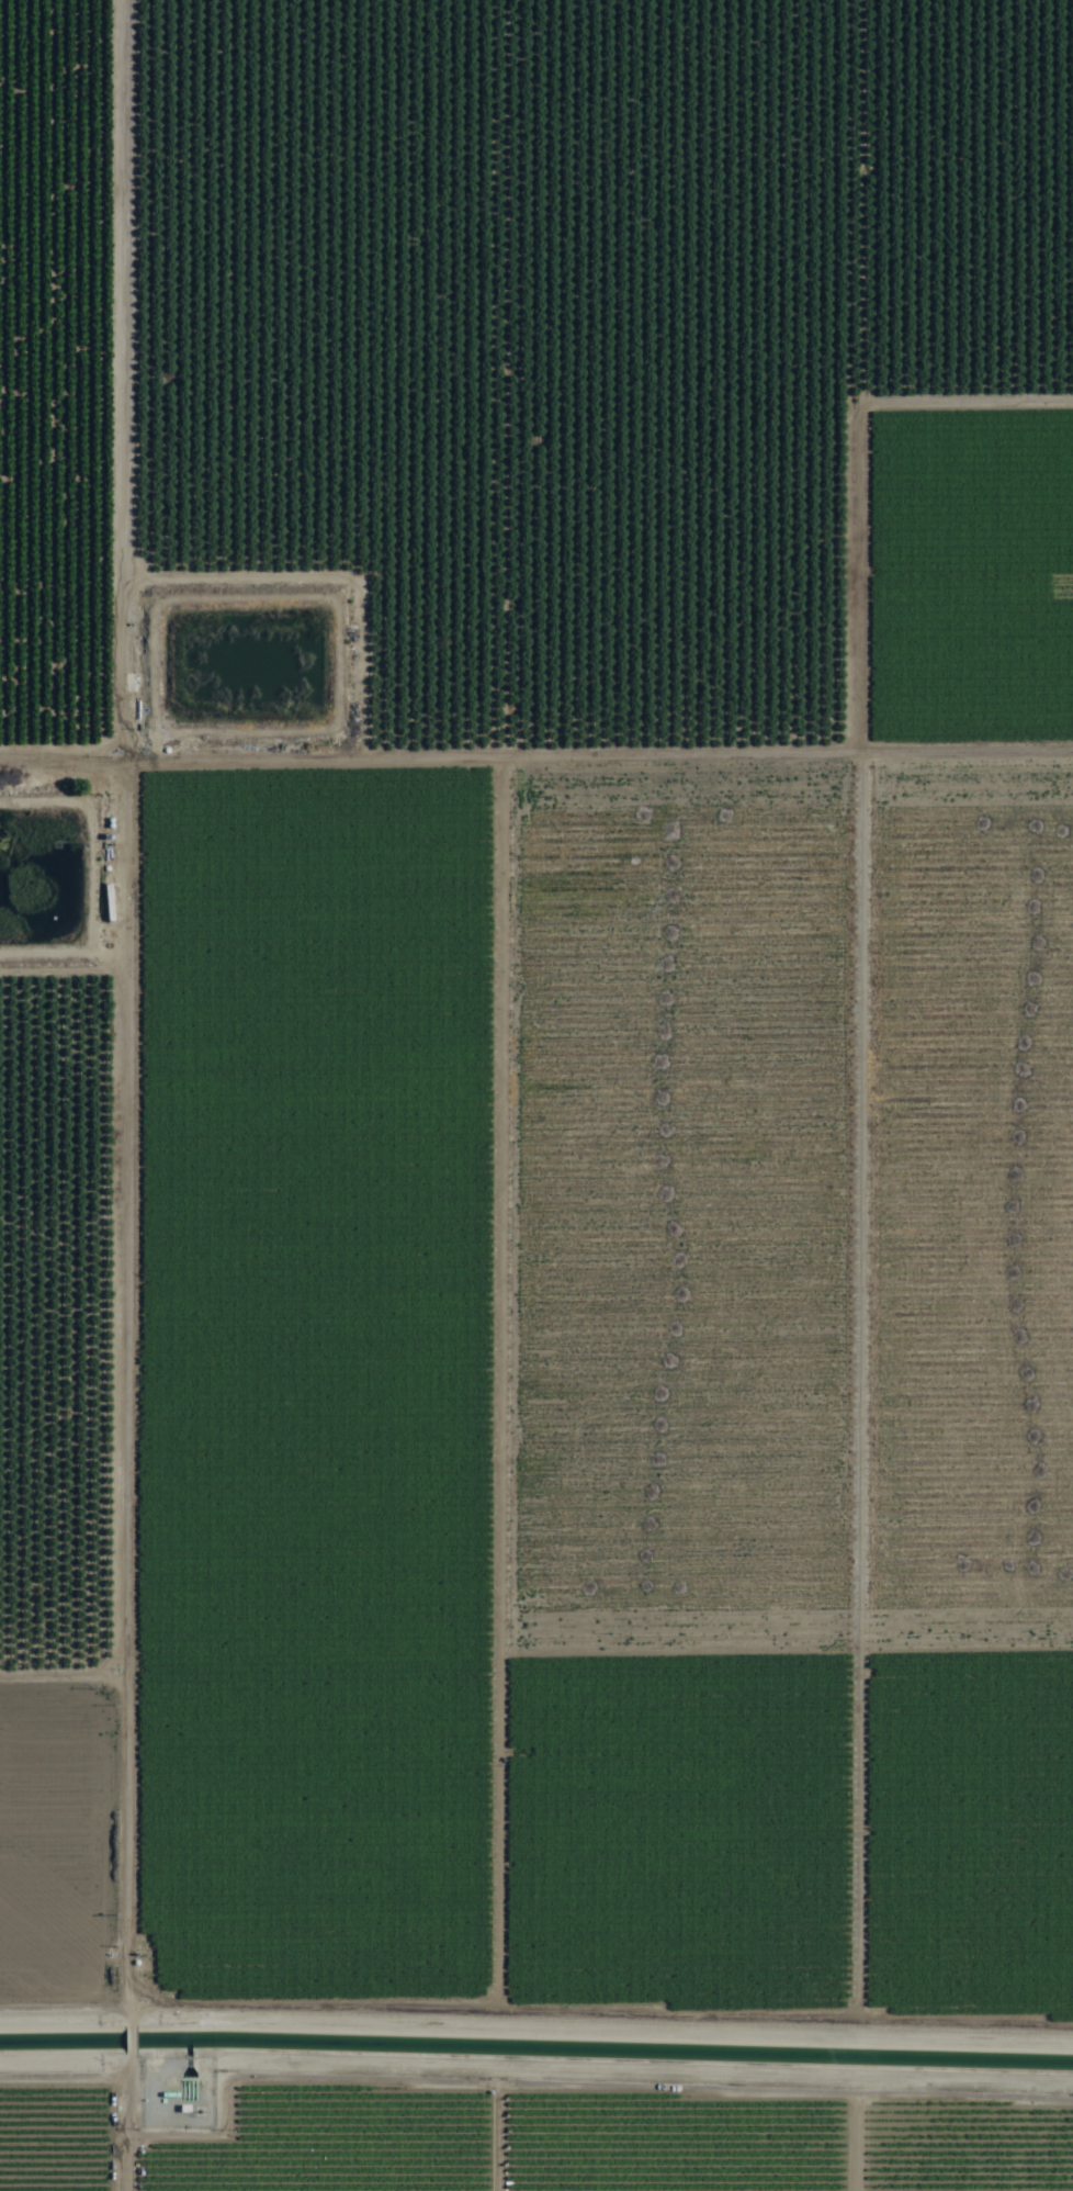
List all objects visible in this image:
road: (990, 363)
wastewater plant: (246, 667)
road: (536, 748)
wastewater plant: (42, 876)
road: (86, 1095)
crop: (536, 1095)
road: (194, 1221)

